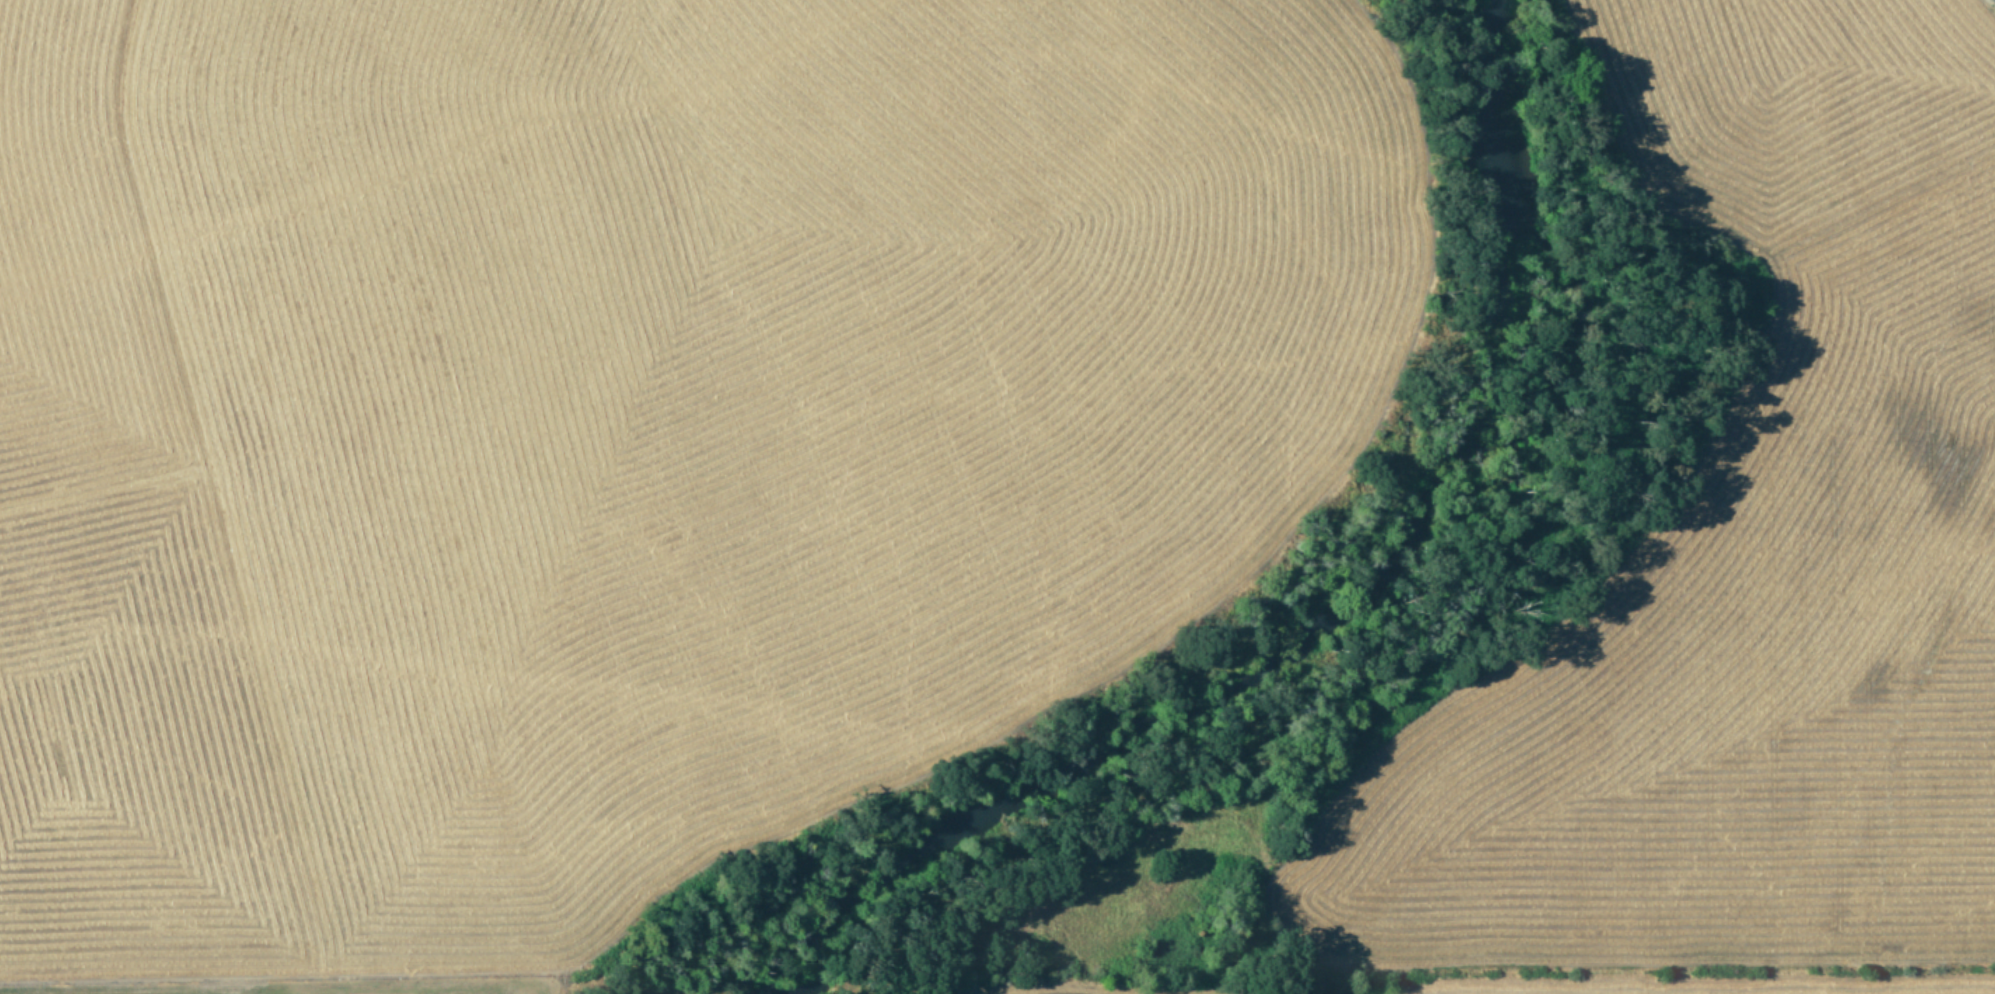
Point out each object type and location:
crop: (1691, 603)

